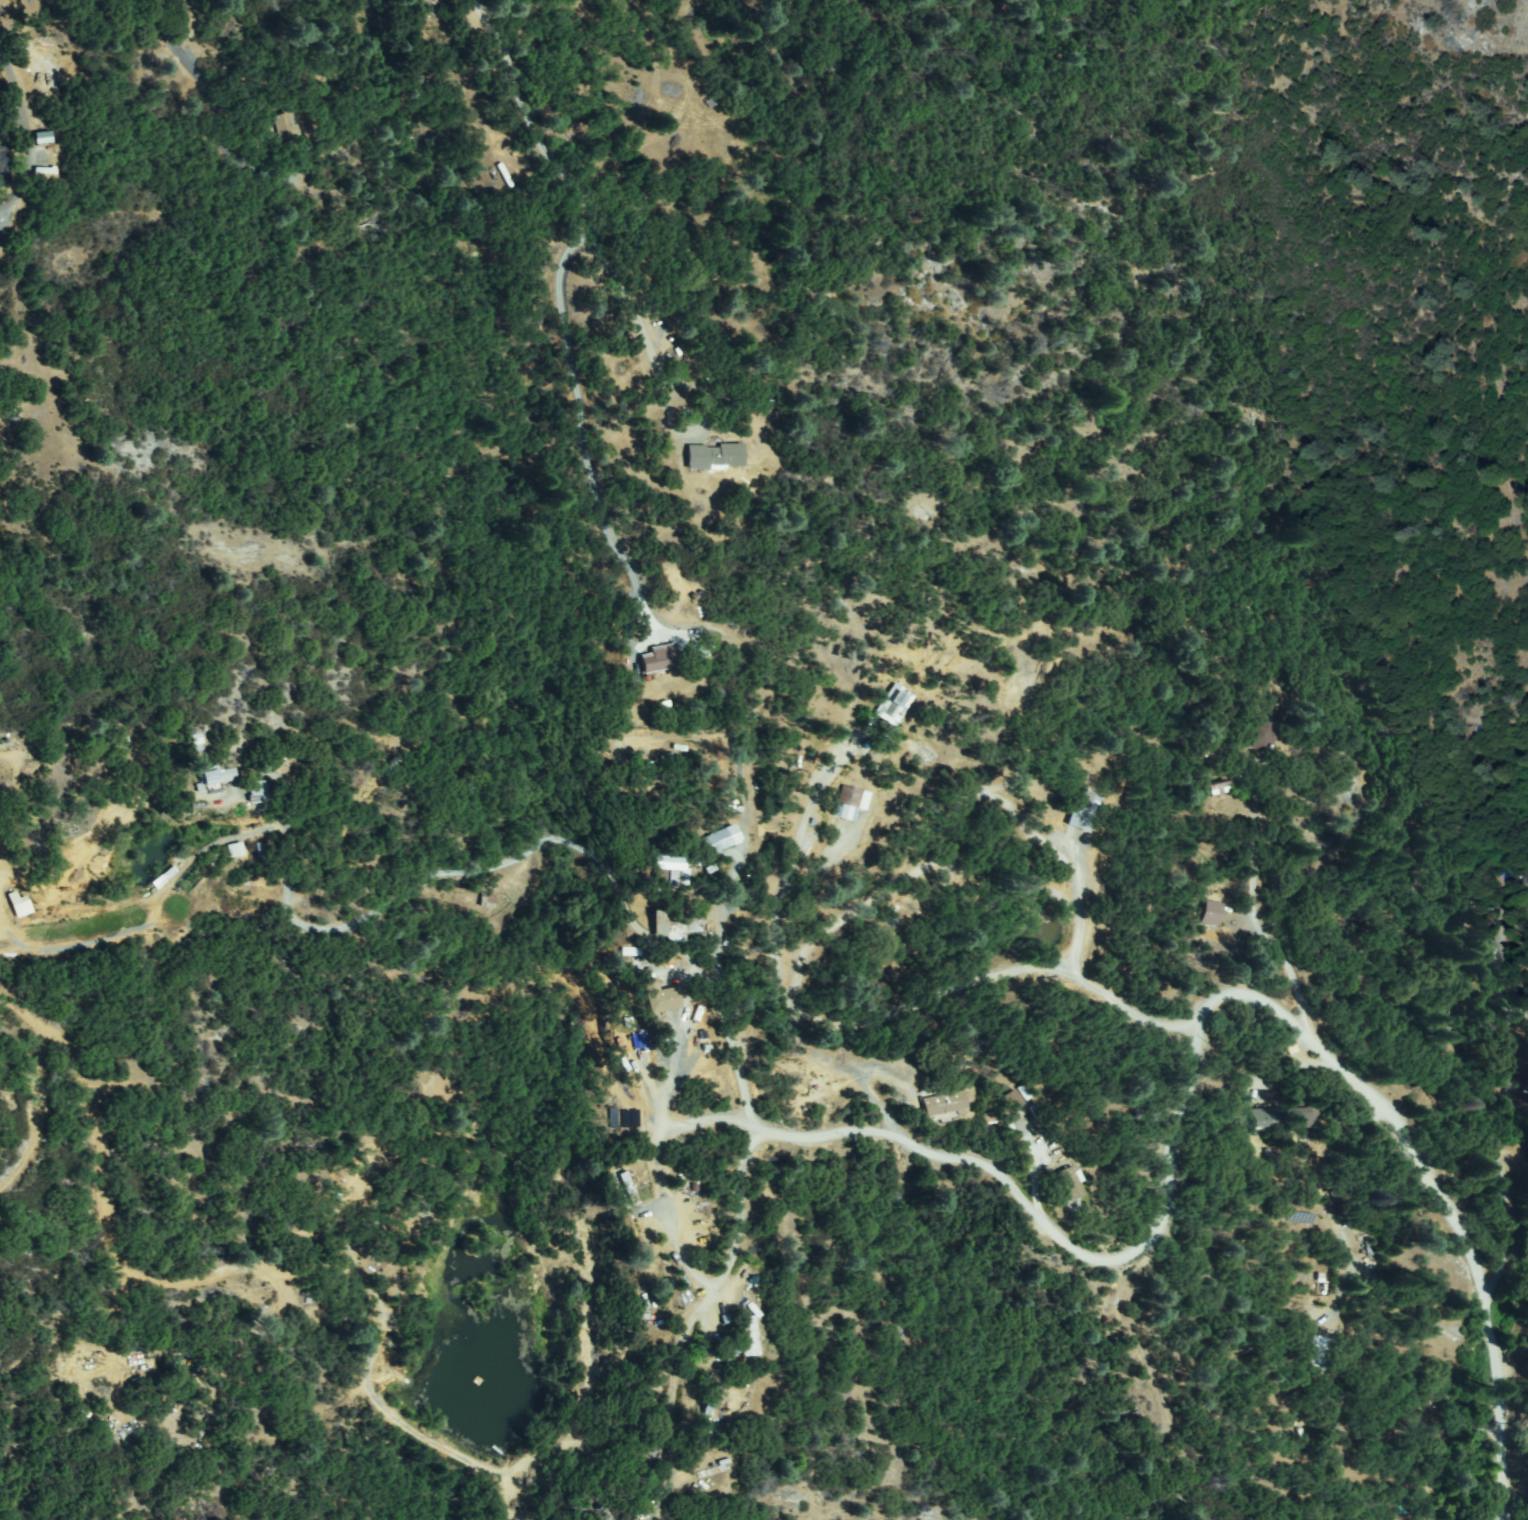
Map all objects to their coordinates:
road: (512, 86)
building: (284, 126)
building: (41, 137)
building: (3, 167)
building: (715, 456)
building: (664, 660)
building: (896, 705)
building: (1258, 735)
building: (195, 745)
building: (210, 779)
building: (1220, 788)
building: (260, 793)
building: (850, 804)
building: (1086, 806)
building: (719, 841)
building: (233, 850)
building: (262, 852)
building: (670, 867)
building: (1525, 878)
building: (486, 900)
building: (22, 905)
building: (1212, 914)
building: (676, 927)
building: (665, 999)
building: (1013, 1101)
building: (943, 1104)
building: (1264, 1117)
building: (1302, 1118)
road: (1174, 1140)
building: (1070, 1184)
building: (629, 1189)
building: (699, 1251)
building: (743, 1336)
building: (1319, 1352)
road: (1496, 1391)
road: (656, 1499)

